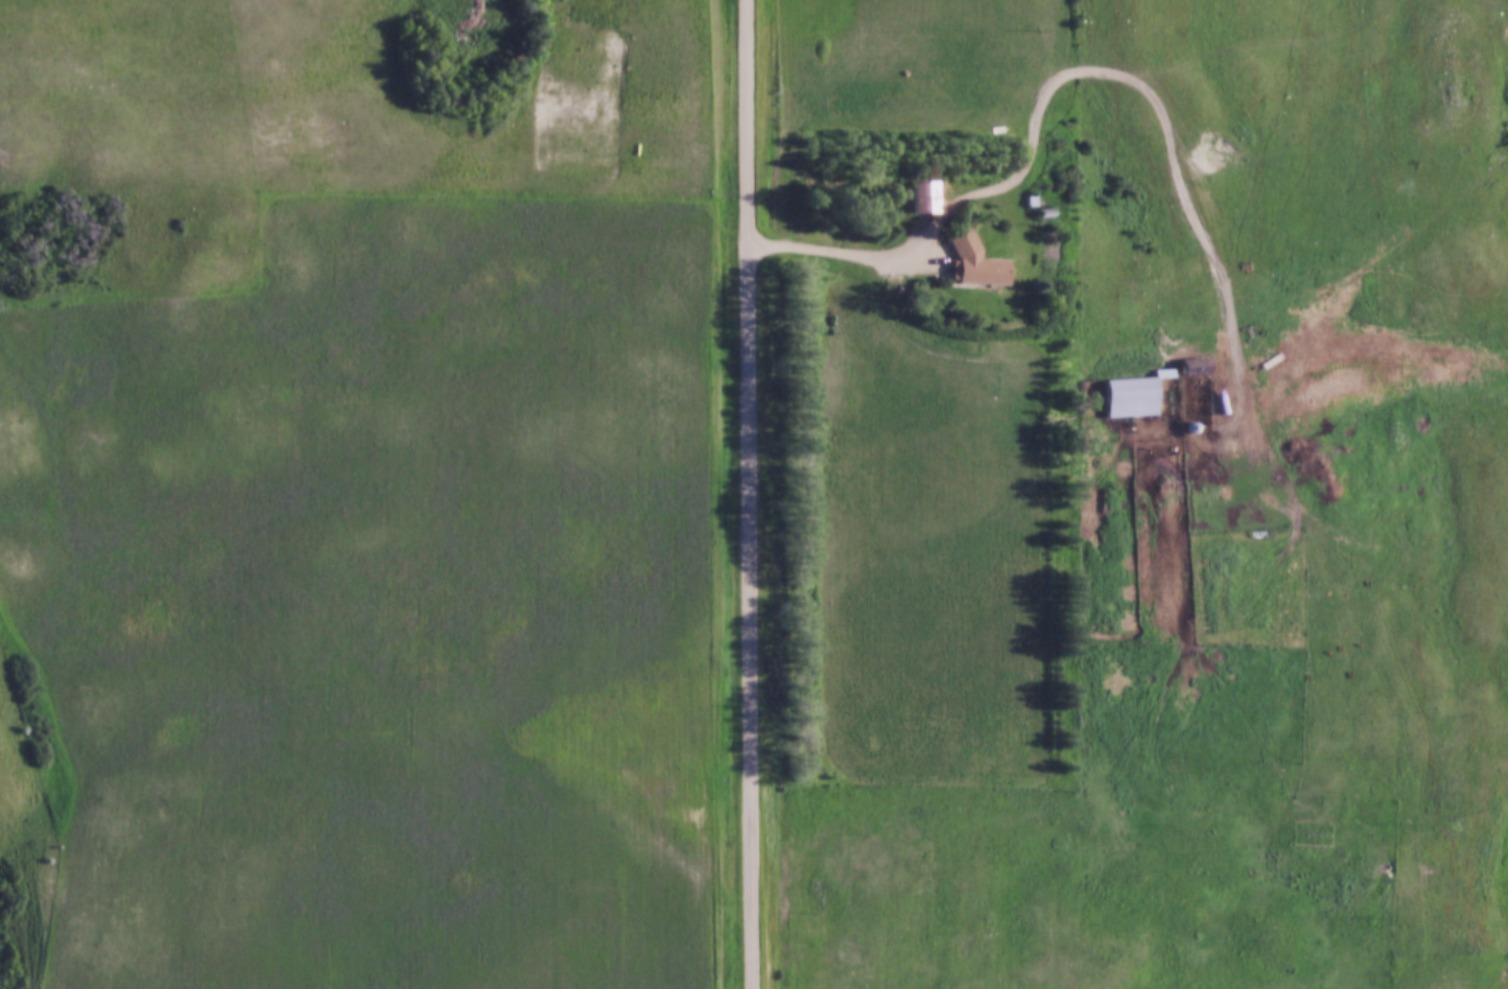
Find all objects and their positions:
road: (1064, 71)
building: (927, 197)
building: (979, 263)
building: (1134, 397)
road: (751, 494)

